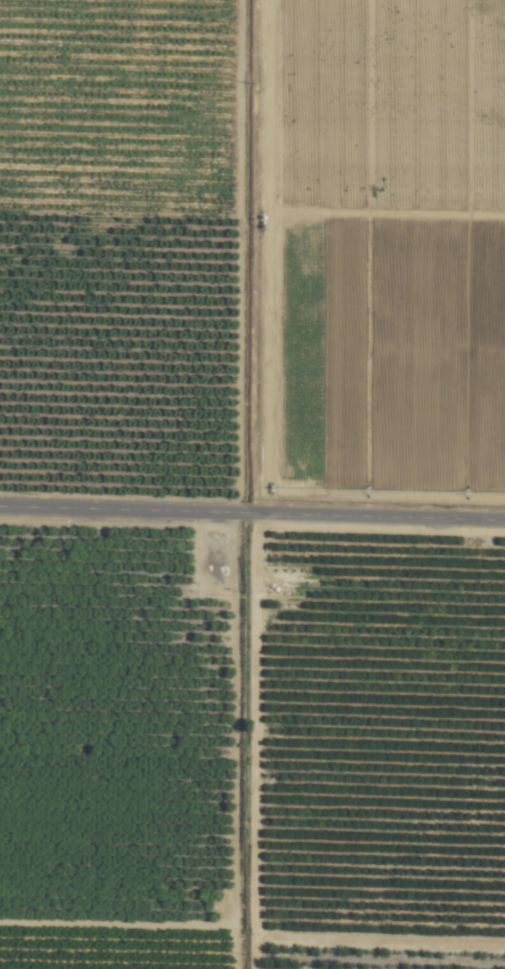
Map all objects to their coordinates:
crop: (252, 484)
road: (252, 504)

